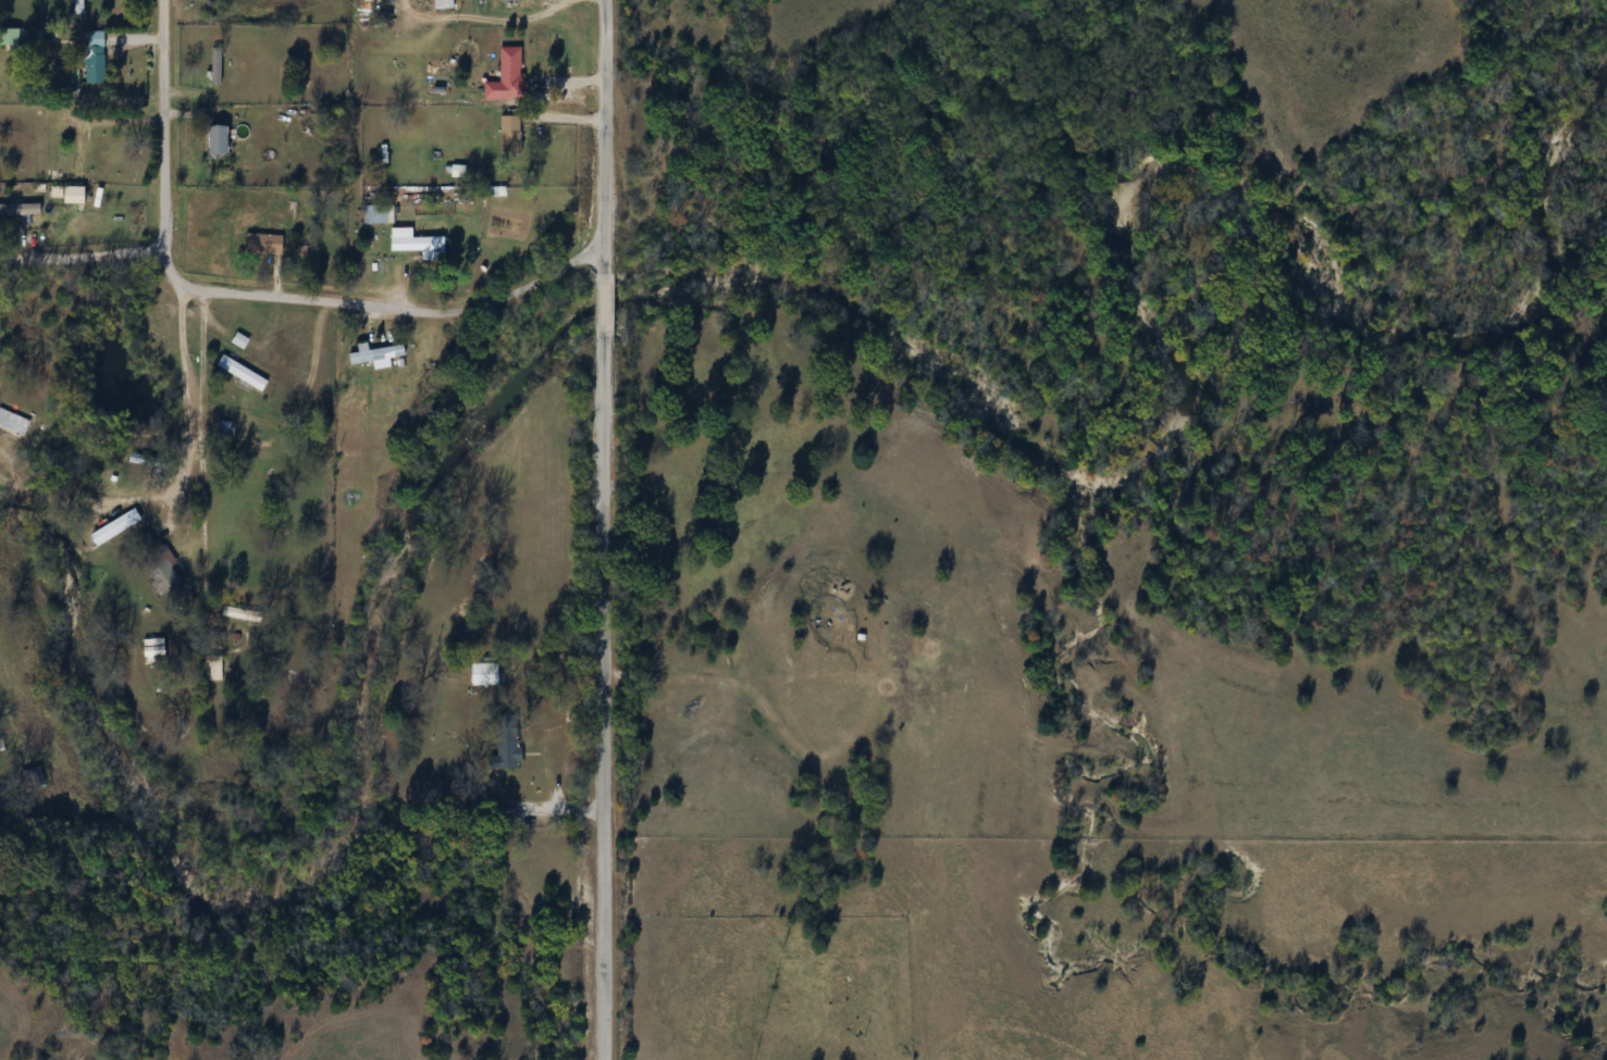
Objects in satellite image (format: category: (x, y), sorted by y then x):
building: (510, 0)
building: (13, 38)
building: (96, 58)
building: (217, 65)
building: (508, 75)
building: (510, 134)
building: (218, 139)
building: (81, 153)
building: (375, 214)
building: (263, 244)
building: (418, 244)
road: (83, 253)
road: (256, 294)
building: (376, 354)
building: (243, 372)
building: (13, 422)
building: (223, 433)
road: (208, 451)
road: (173, 484)
road: (606, 529)
building: (242, 614)
building: (213, 669)
building: (485, 674)
building: (508, 741)
building: (506, 808)

